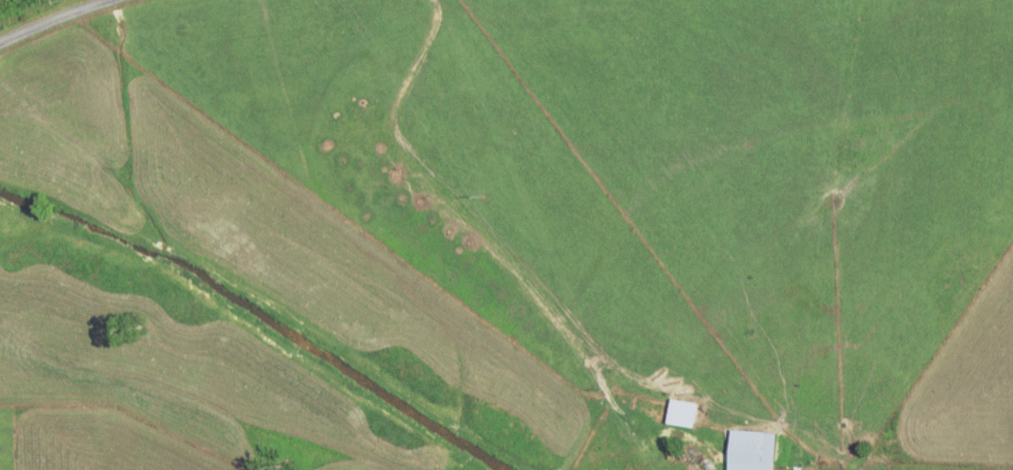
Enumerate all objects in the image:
road: (52, 18)
building: (684, 413)
building: (753, 450)

